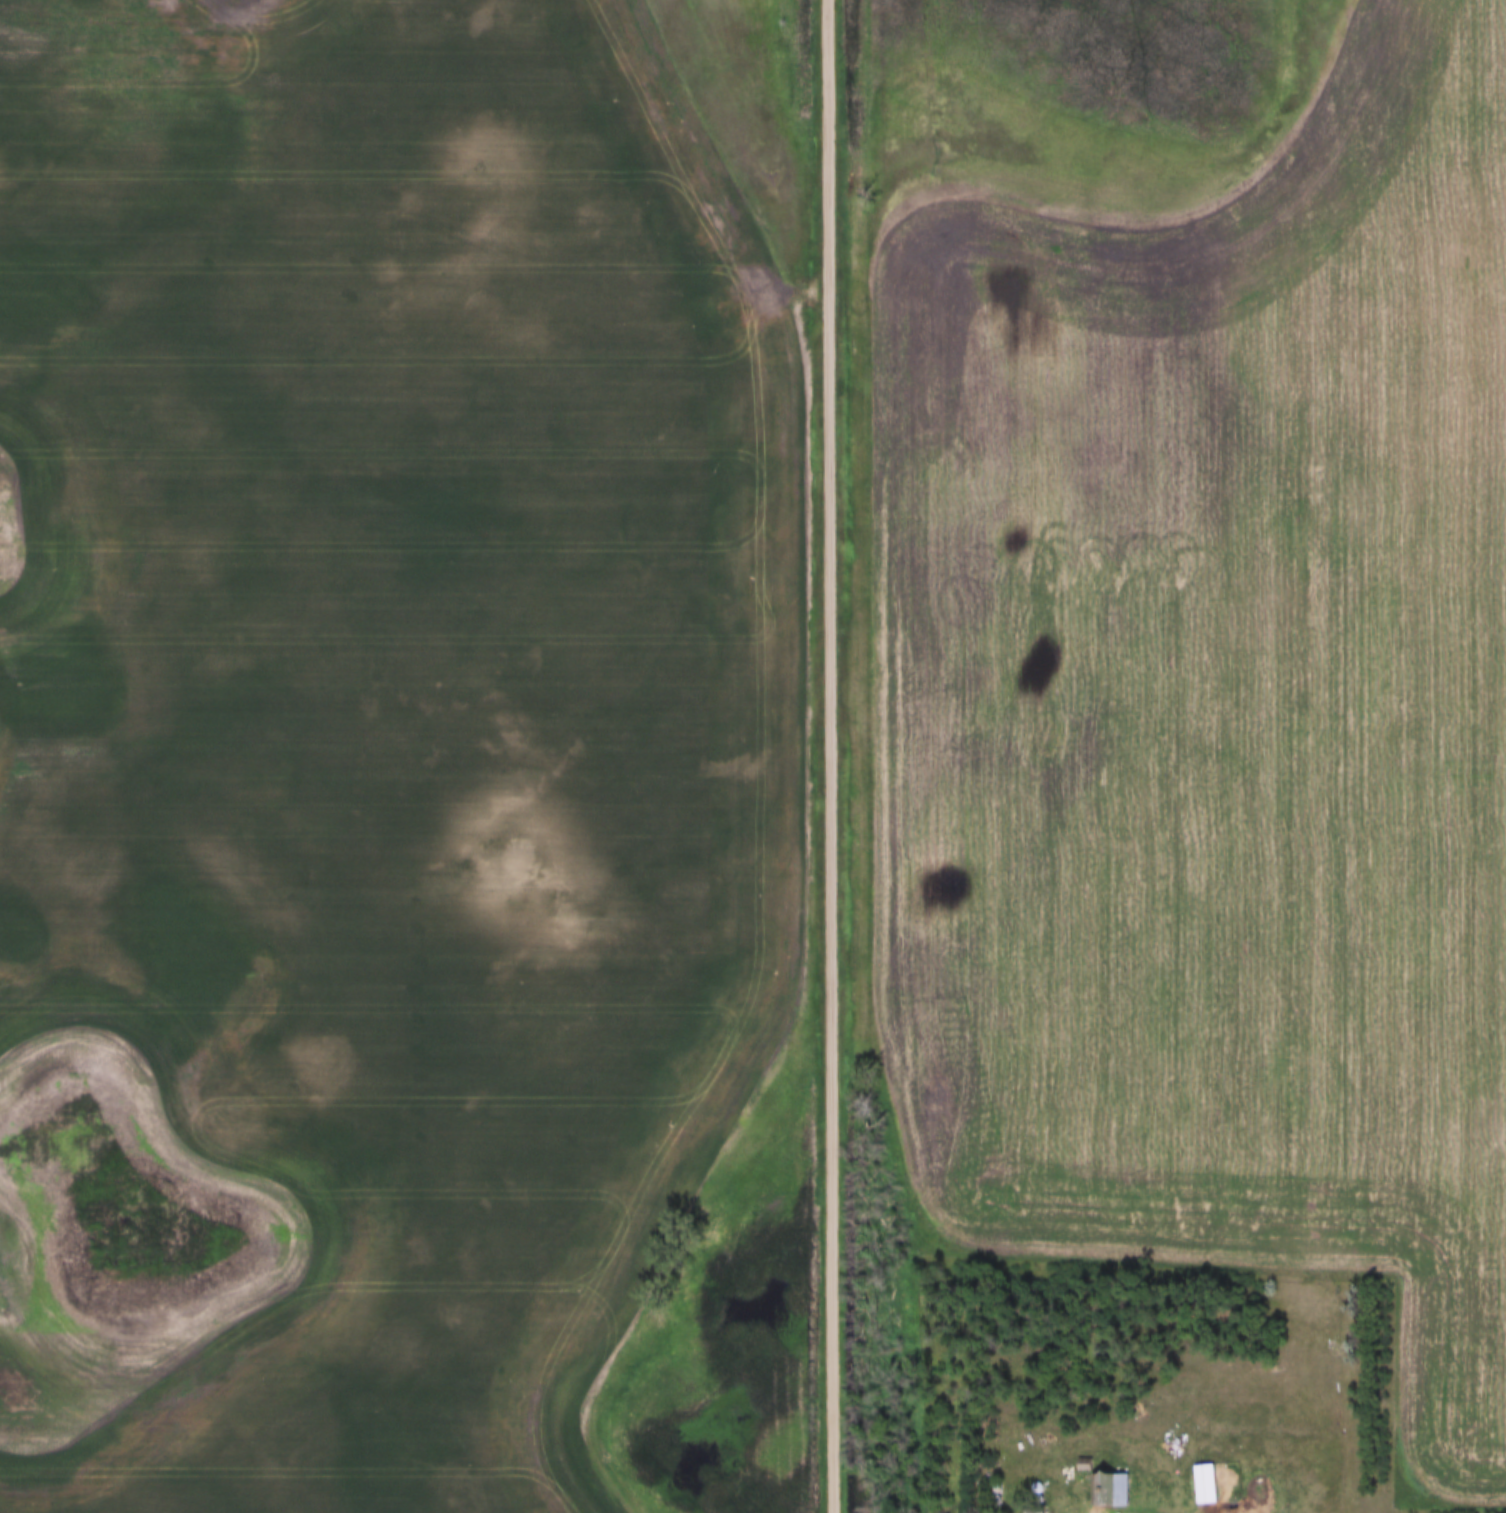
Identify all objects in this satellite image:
road: (831, 756)
building: (1204, 1485)
building: (1109, 1491)

